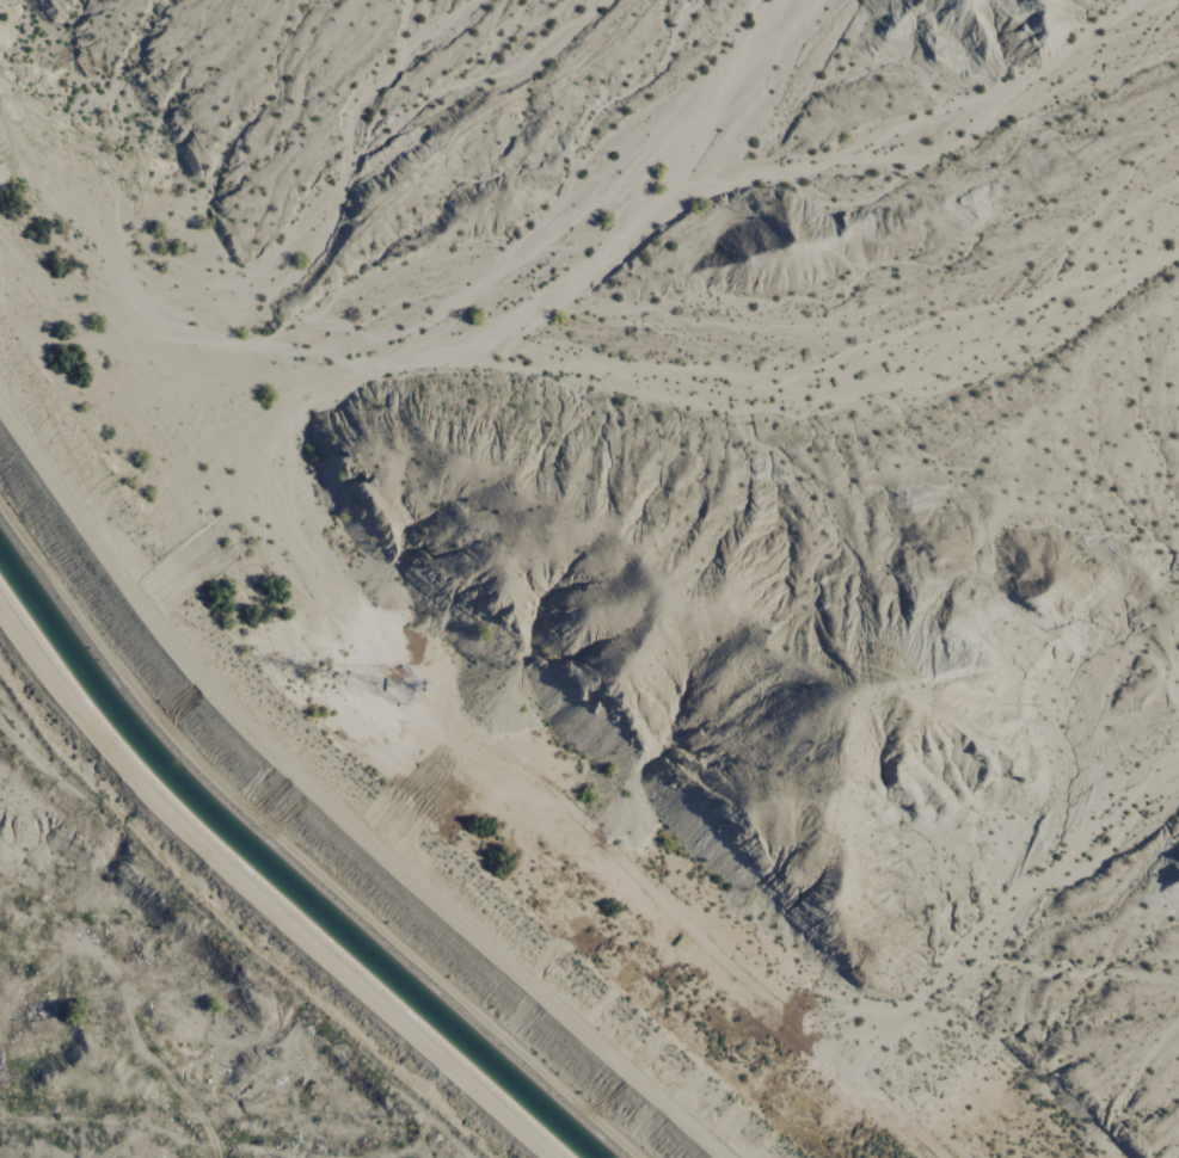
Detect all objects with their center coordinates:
power tower: (386, 670)

